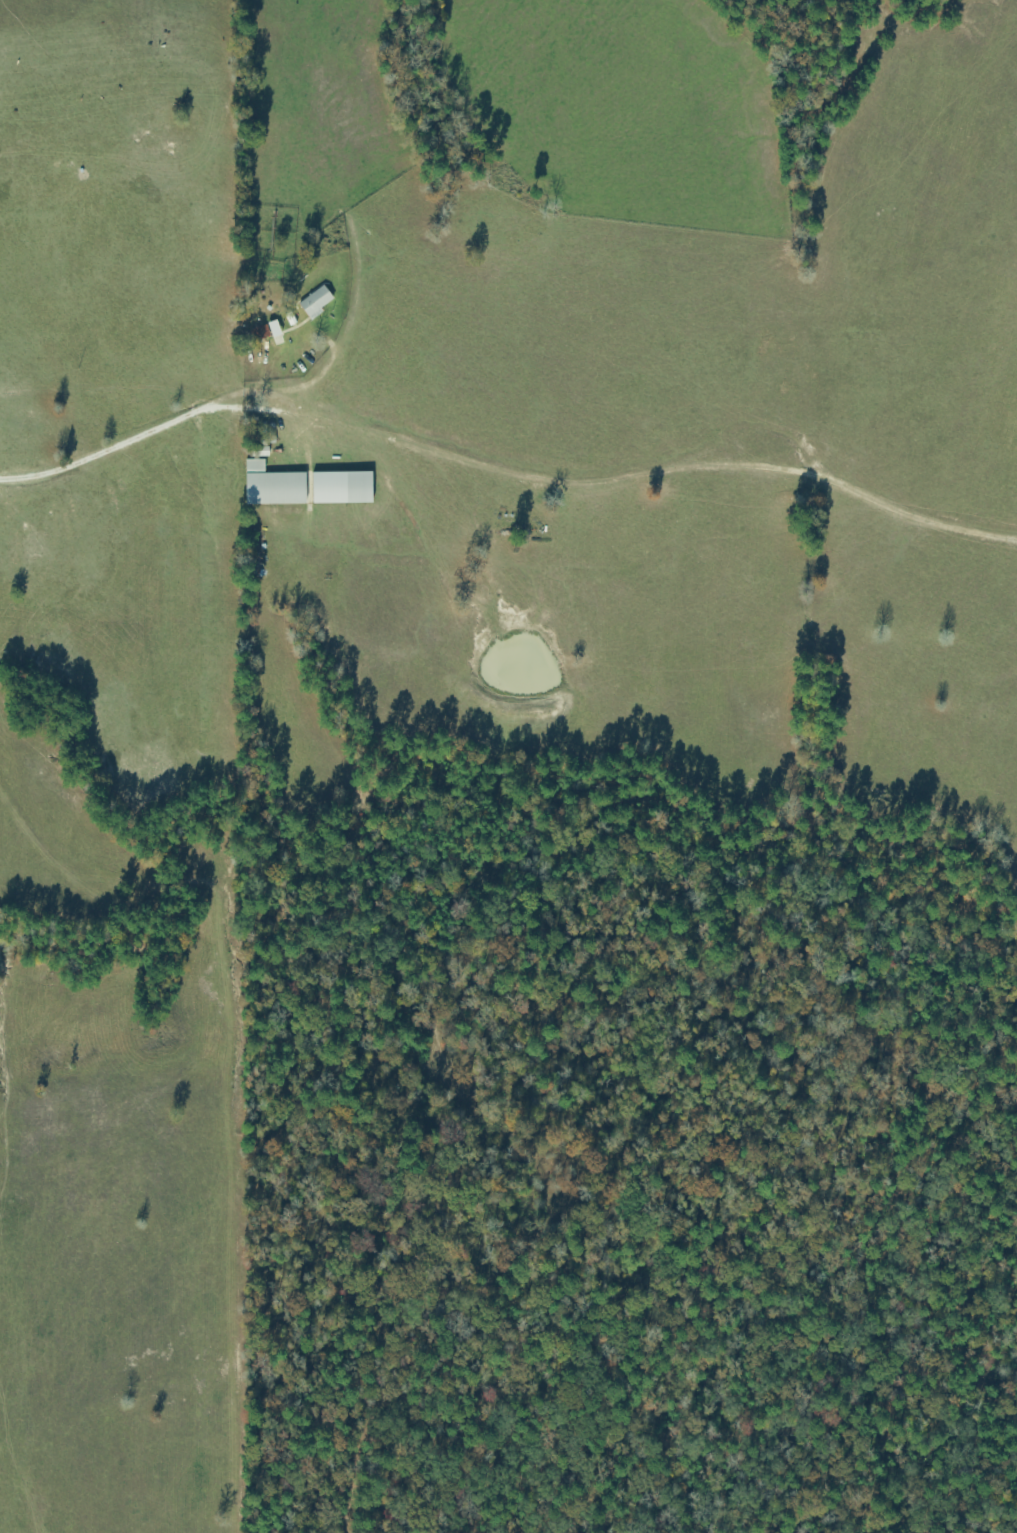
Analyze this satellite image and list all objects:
building: (315, 304)
building: (273, 487)
building: (341, 489)

